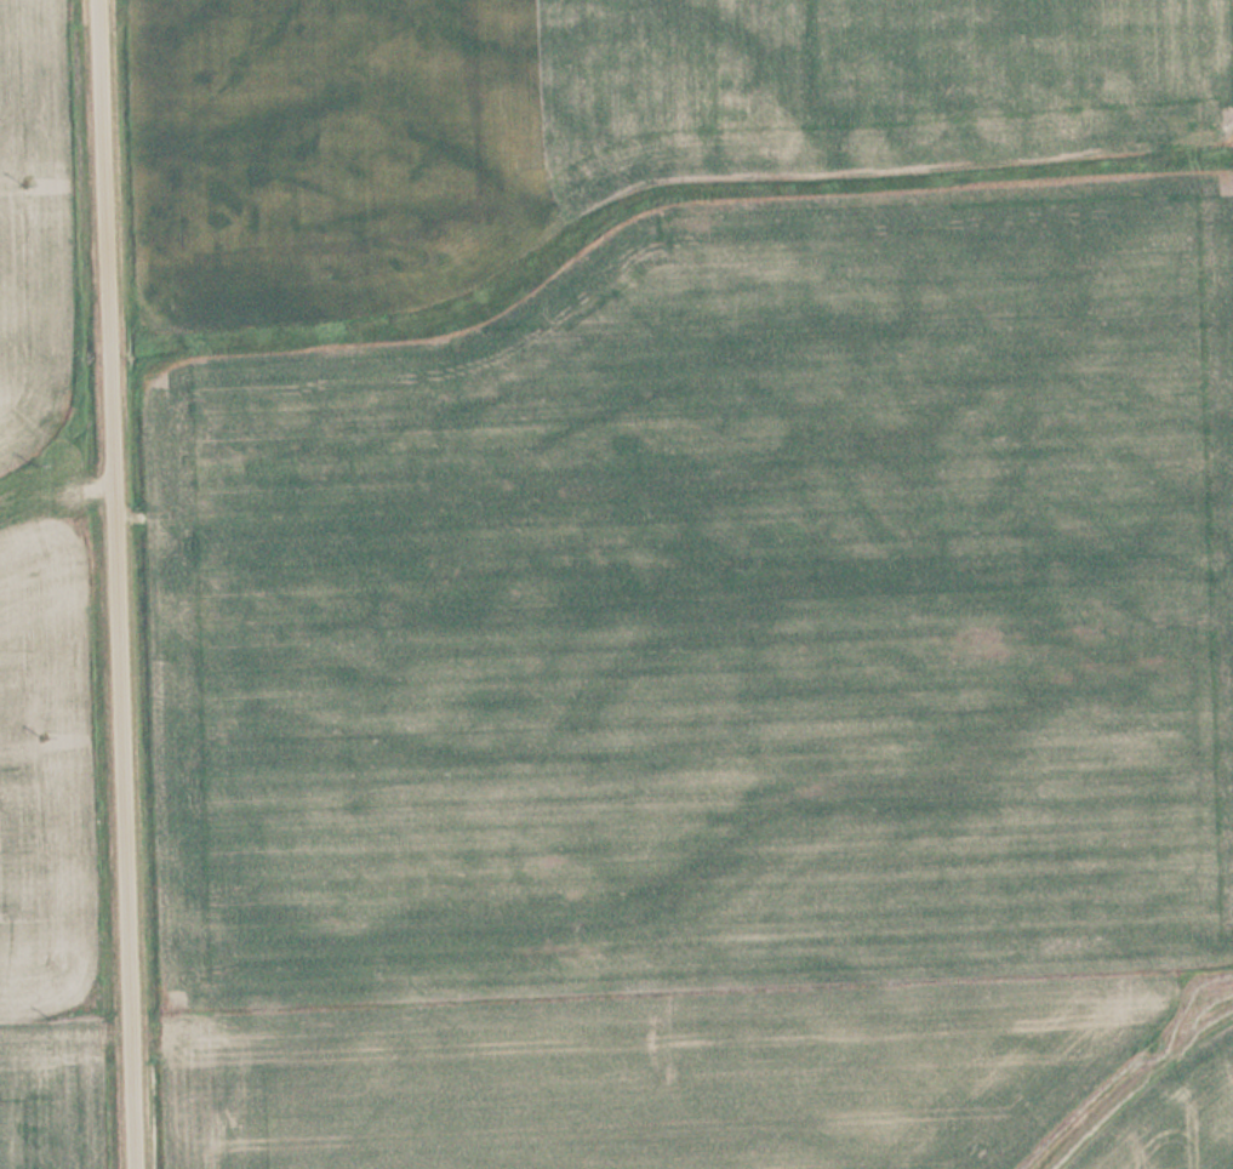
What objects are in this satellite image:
road: (120, 583)

